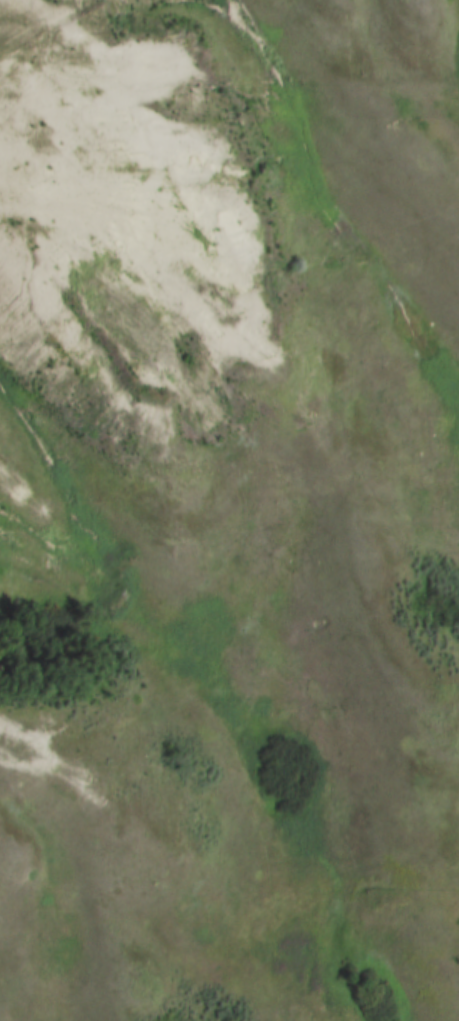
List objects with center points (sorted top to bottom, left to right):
quarry: (153, 260)
quarry: (61, 772)

